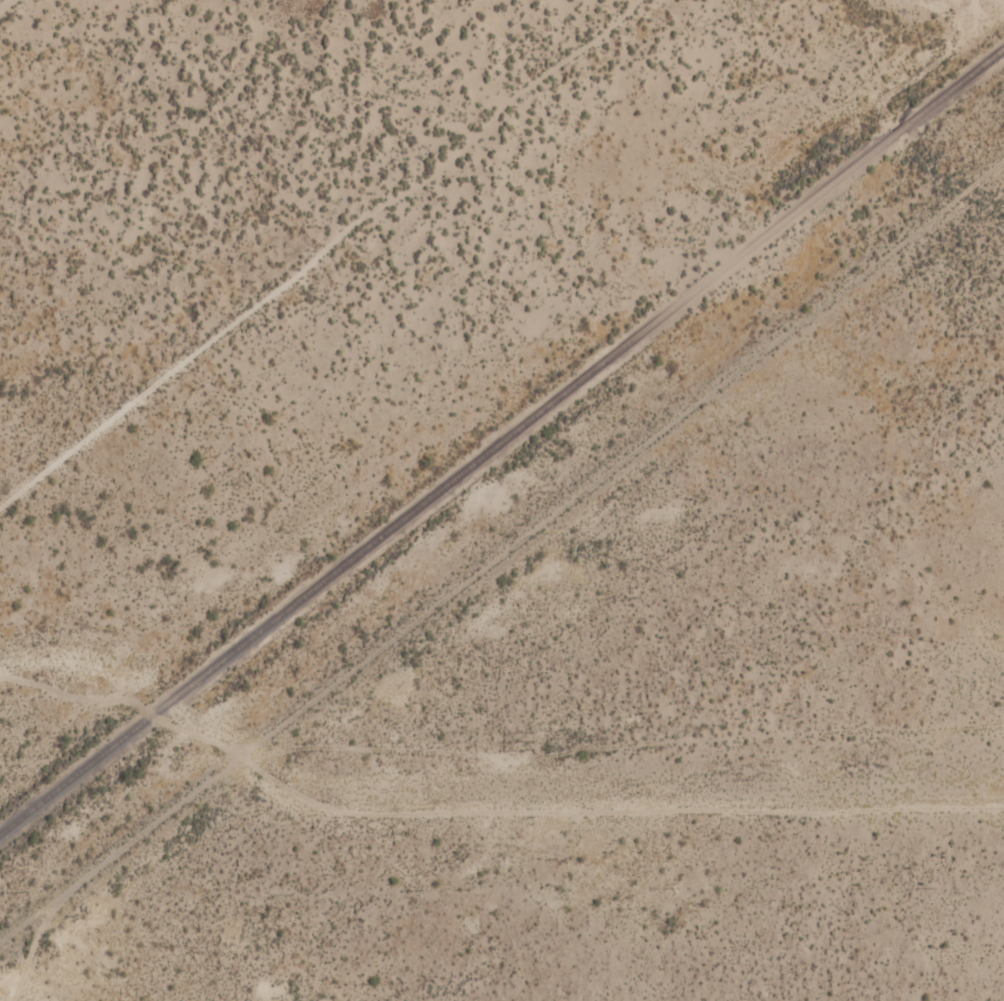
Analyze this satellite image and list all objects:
road: (2, 1)
railway: (501, 441)
road: (492, 576)
road: (641, 742)

